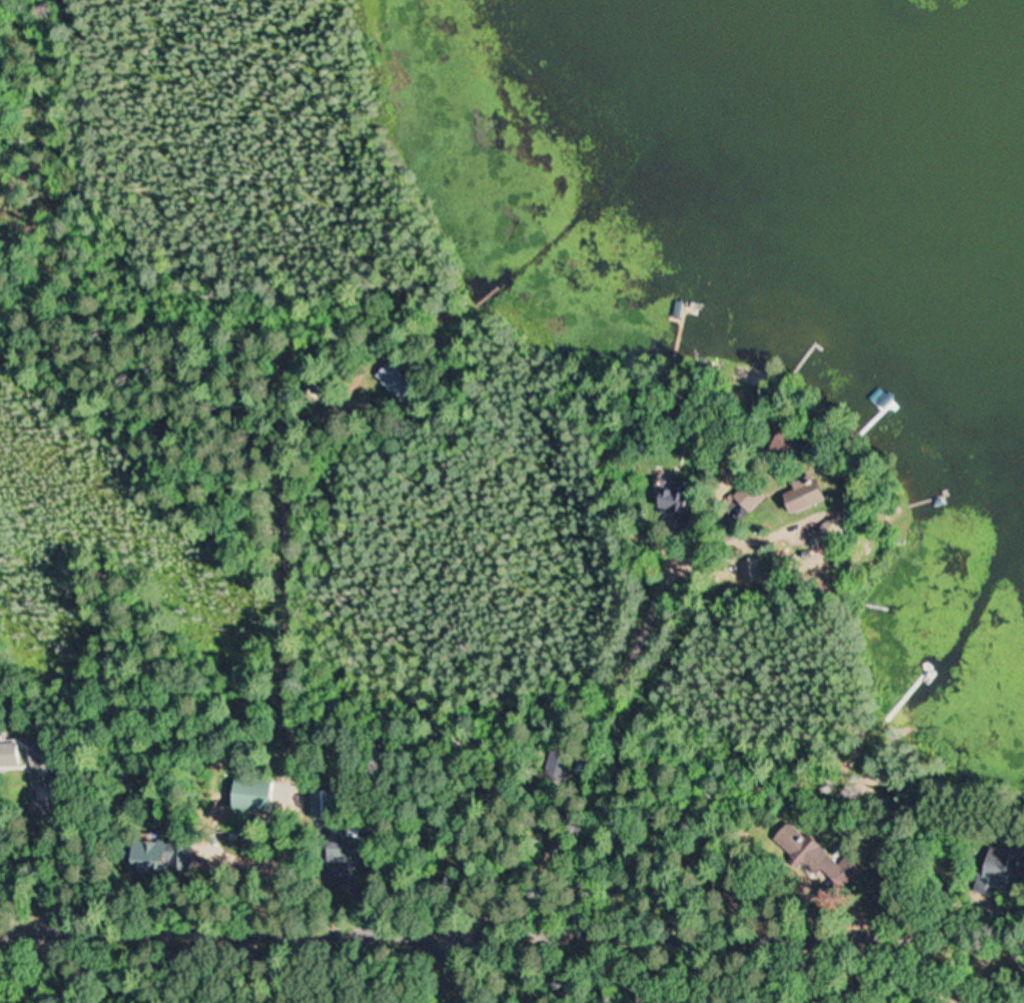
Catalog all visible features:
building: (405, 382)
building: (784, 443)
building: (674, 496)
building: (796, 496)
building: (747, 498)
building: (755, 570)
building: (10, 754)
building: (249, 793)
building: (321, 805)
building: (347, 847)
building: (805, 848)
building: (163, 856)
building: (1001, 873)
road: (455, 931)
road: (469, 967)
road: (582, 986)

